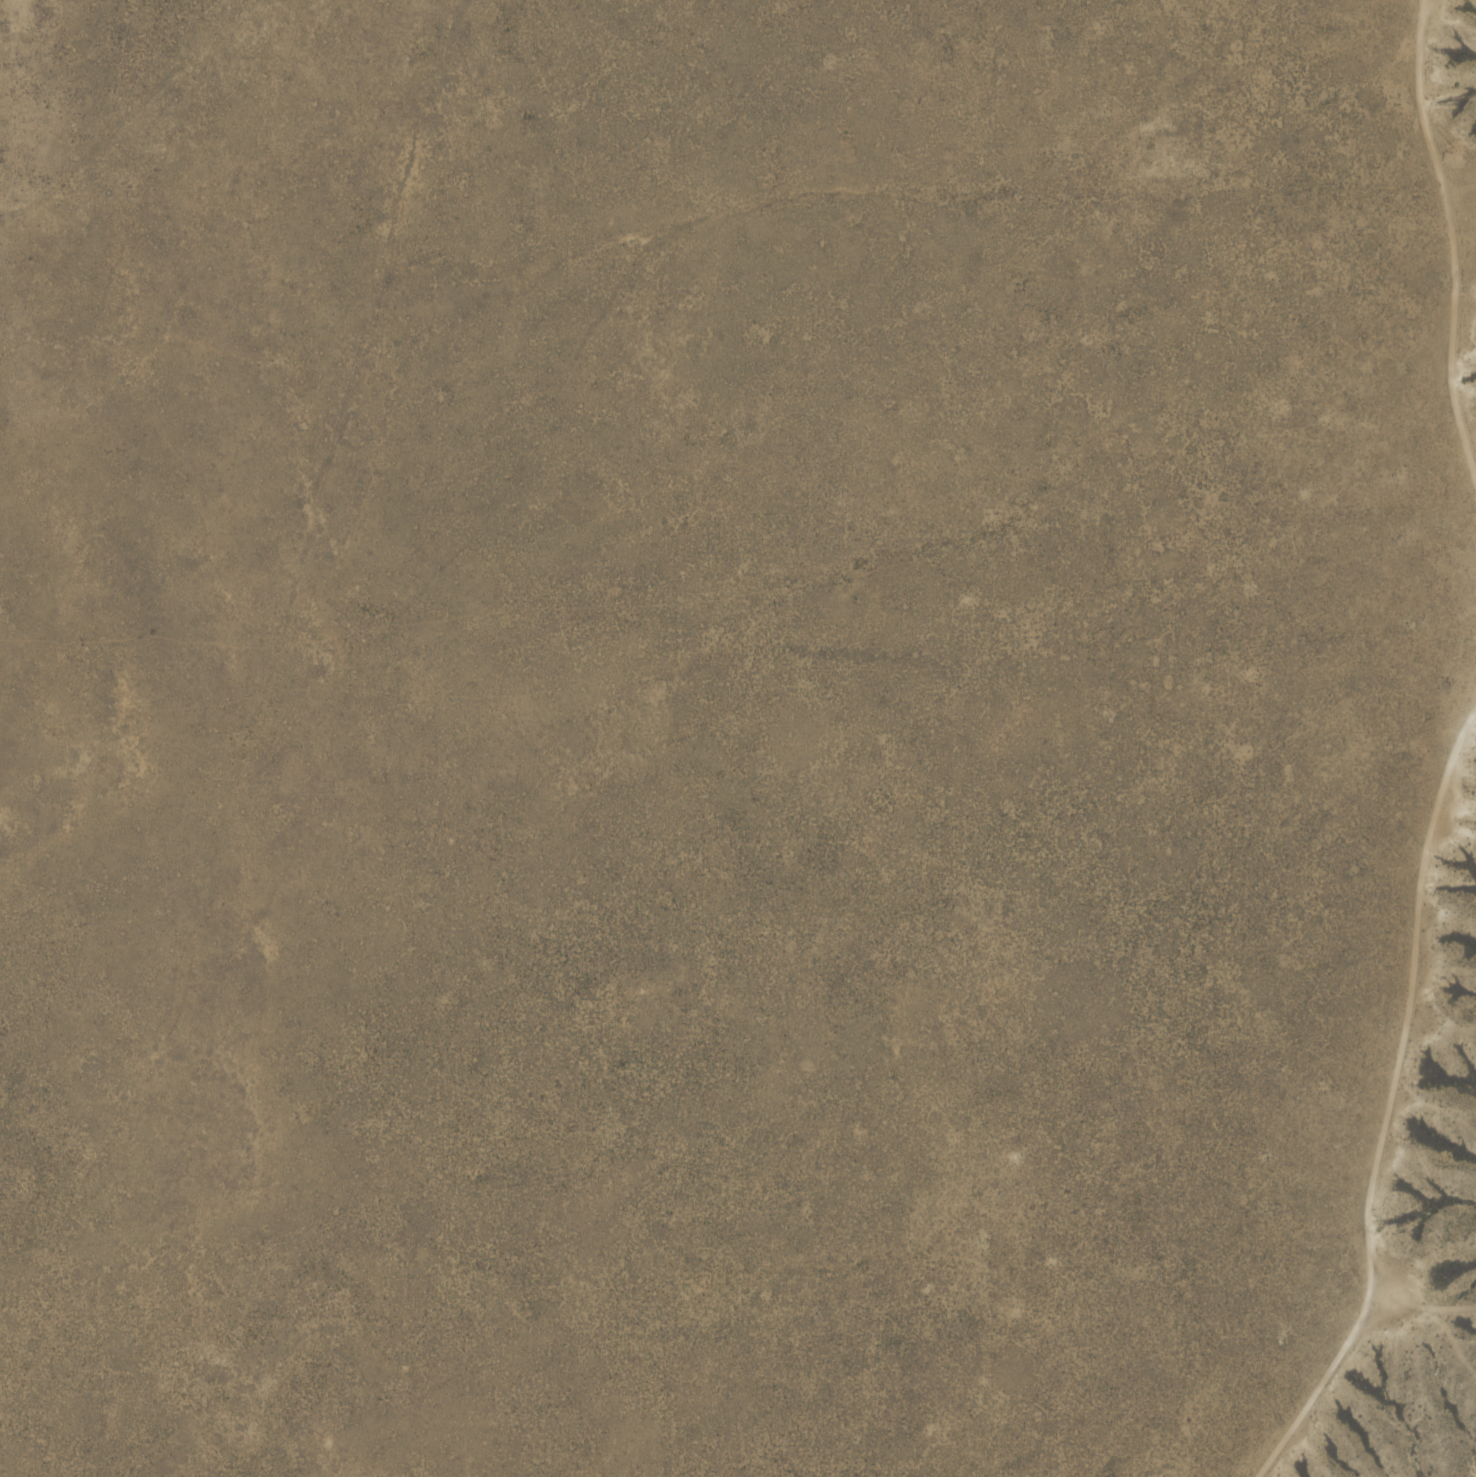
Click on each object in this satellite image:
road: (1459, 230)
road: (1393, 1109)

